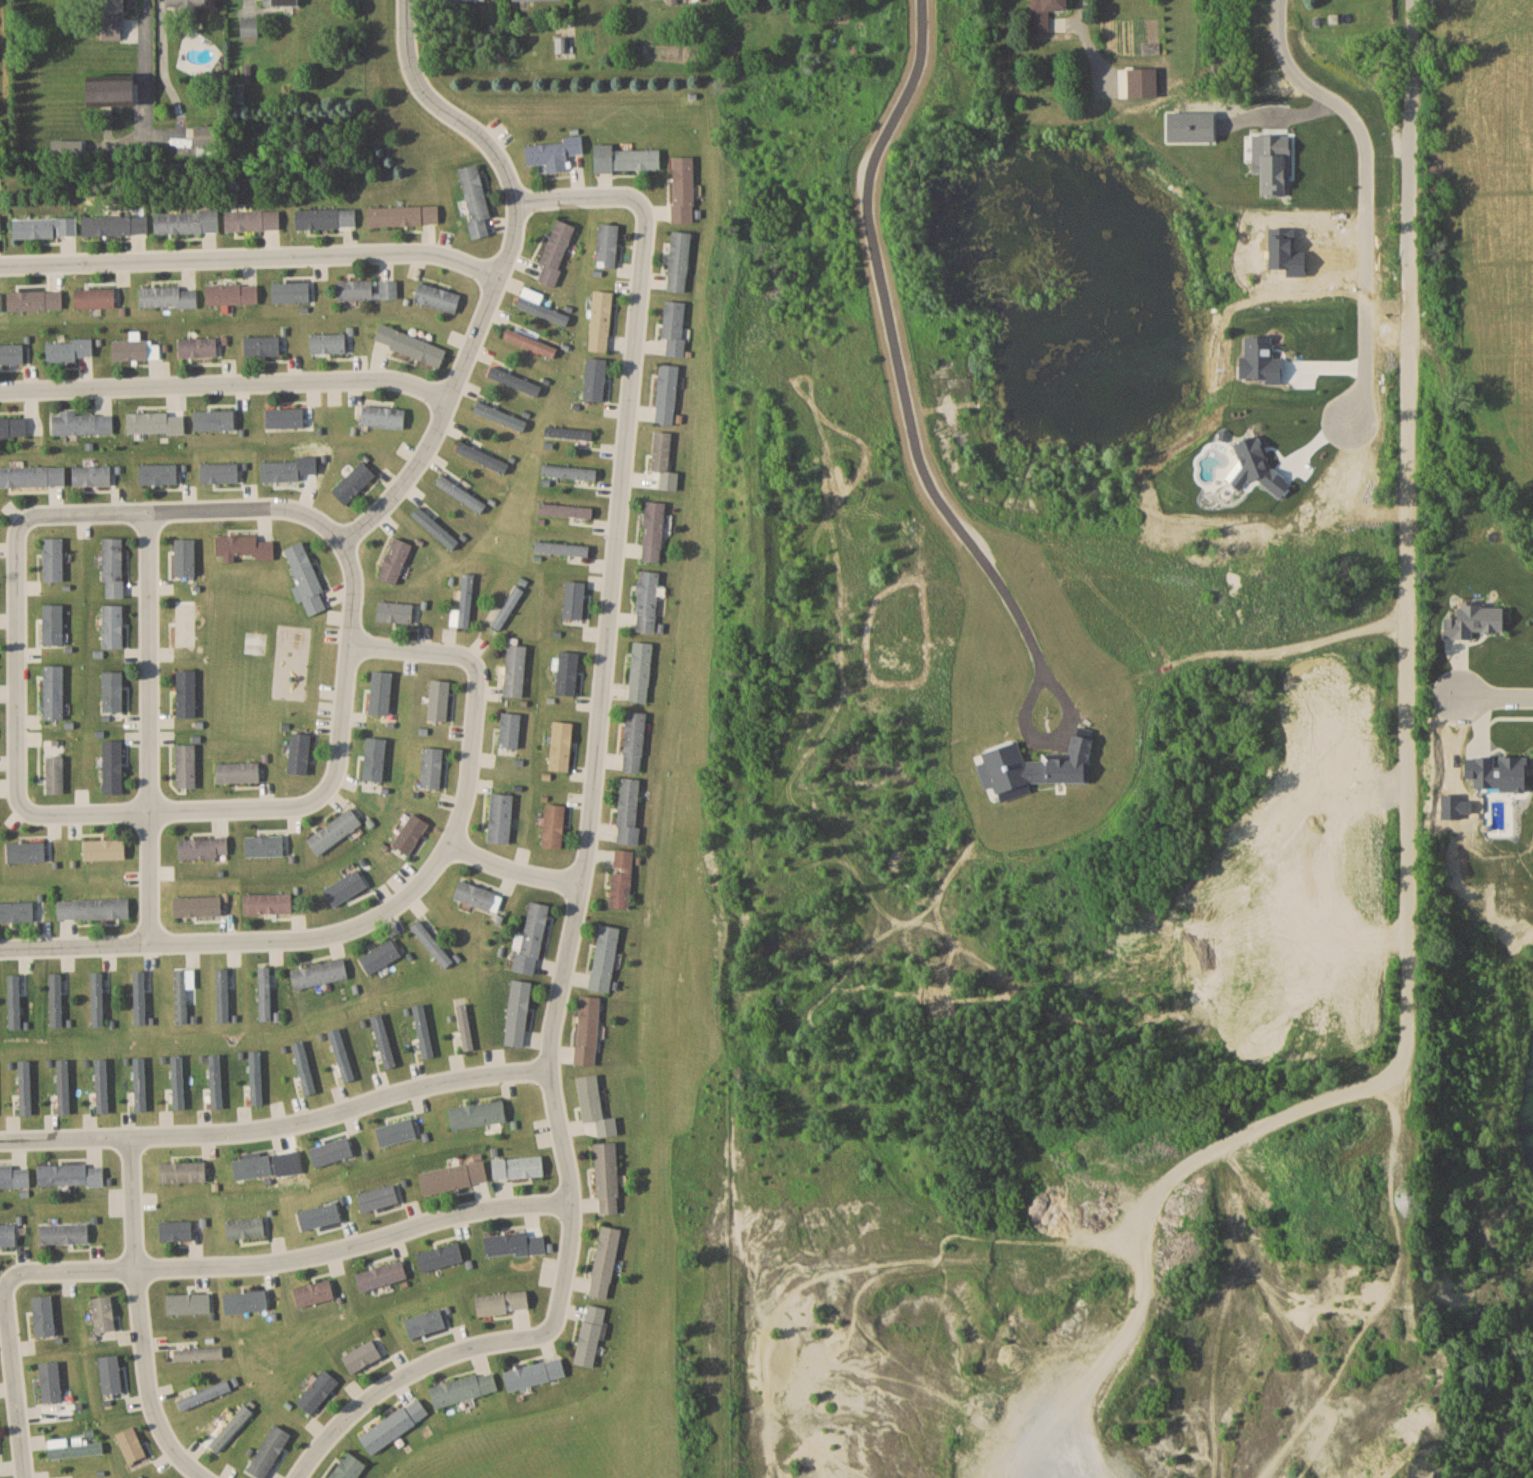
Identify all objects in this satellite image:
building: (465, 0)
building: (283, 2)
building: (187, 6)
building: (1045, 13)
building: (114, 19)
building: (249, 27)
road: (1081, 45)
road: (150, 84)
building: (116, 92)
building: (1166, 99)
road: (1286, 114)
building: (207, 135)
building: (553, 154)
building: (626, 158)
road: (500, 161)
building: (682, 189)
road: (1365, 191)
building: (475, 199)
building: (403, 215)
building: (325, 218)
building: (186, 221)
building: (252, 221)
building: (115, 224)
building: (0, 228)
building: (44, 228)
building: (607, 245)
building: (556, 251)
road: (250, 255)
building: (678, 260)
building: (367, 289)
building: (290, 292)
building: (232, 294)
building: (167, 296)
building: (437, 297)
building: (94, 298)
building: (34, 300)
building: (0, 302)
building: (542, 310)
building: (601, 320)
building: (674, 326)
building: (530, 342)
building: (328, 343)
building: (410, 344)
building: (262, 346)
building: (198, 347)
building: (132, 349)
building: (68, 350)
building: (11, 354)
road: (900, 366)
building: (595, 379)
building: (514, 380)
road: (225, 384)
road: (455, 385)
building: (666, 394)
building: (499, 415)
building: (382, 416)
building: (289, 418)
building: (214, 420)
building: (153, 421)
building: (82, 423)
building: (13, 427)
road: (1321, 428)
building: (568, 432)
building: (482, 456)
building: (569, 472)
building: (91, 475)
building: (32, 476)
building: (353, 482)
building: (460, 493)
road: (247, 510)
building: (565, 510)
building: (434, 527)
building: (653, 532)
building: (242, 547)
building: (561, 548)
building: (184, 557)
building: (52, 559)
building: (394, 560)
building: (112, 567)
building: (305, 580)
building: (574, 601)
building: (647, 601)
building: (463, 603)
building: (507, 607)
building: (395, 611)
building: (1472, 618)
building: (184, 622)
building: (111, 625)
road: (1251, 651)
building: (515, 669)
building: (641, 671)
building: (568, 672)
building: (52, 691)
building: (380, 691)
building: (110, 692)
building: (184, 692)
road: (1495, 696)
building: (438, 698)
road: (1407, 708)
road: (1510, 723)
building: (509, 728)
road: (147, 729)
building: (634, 740)
building: (561, 744)
building: (299, 752)
building: (184, 764)
building: (53, 765)
building: (111, 766)
building: (431, 766)
building: (238, 771)
building: (1493, 772)
road: (592, 784)
road: (99, 808)
building: (628, 810)
building: (500, 817)
building: (553, 825)
building: (334, 830)
building: (410, 832)
building: (264, 844)
building: (203, 846)
building: (104, 849)
building: (25, 850)
road: (514, 871)
building: (621, 878)
building: (342, 888)
building: (477, 895)
building: (267, 902)
building: (197, 905)
building: (92, 908)
road: (391, 908)
building: (20, 911)
building: (531, 937)
building: (431, 944)
building: (380, 956)
building: (604, 957)
building: (319, 973)
building: (263, 993)
building: (221, 994)
building: (96, 997)
building: (55, 999)
building: (13, 1001)
building: (180, 1004)
building: (517, 1012)
building: (464, 1026)
building: (587, 1029)
building: (253, 1080)
building: (213, 1081)
building: (174, 1084)
building: (22, 1090)
building: (61, 1092)
building: (137, 1092)
building: (476, 1113)
road: (277, 1124)
building: (518, 1165)
building: (252, 1167)
building: (182, 1171)
building: (70, 1174)
building: (454, 1175)
building: (14, 1176)
building: (607, 1177)
building: (245, 1228)
building: (175, 1230)
building: (8, 1234)
building: (506, 1242)
building: (440, 1255)
road: (288, 1258)
building: (605, 1260)
building: (381, 1275)
building: (313, 1293)
building: (503, 1301)
building: (103, 1313)
building: (594, 1313)
road: (140, 1316)
building: (587, 1342)
building: (196, 1353)
building: (362, 1356)
road: (401, 1372)
building: (534, 1373)
road: (11, 1378)
building: (49, 1383)
building: (463, 1388)
building: (317, 1391)
building: (204, 1394)
building: (394, 1425)
building: (230, 1430)
building: (77, 1448)
building: (347, 1467)

